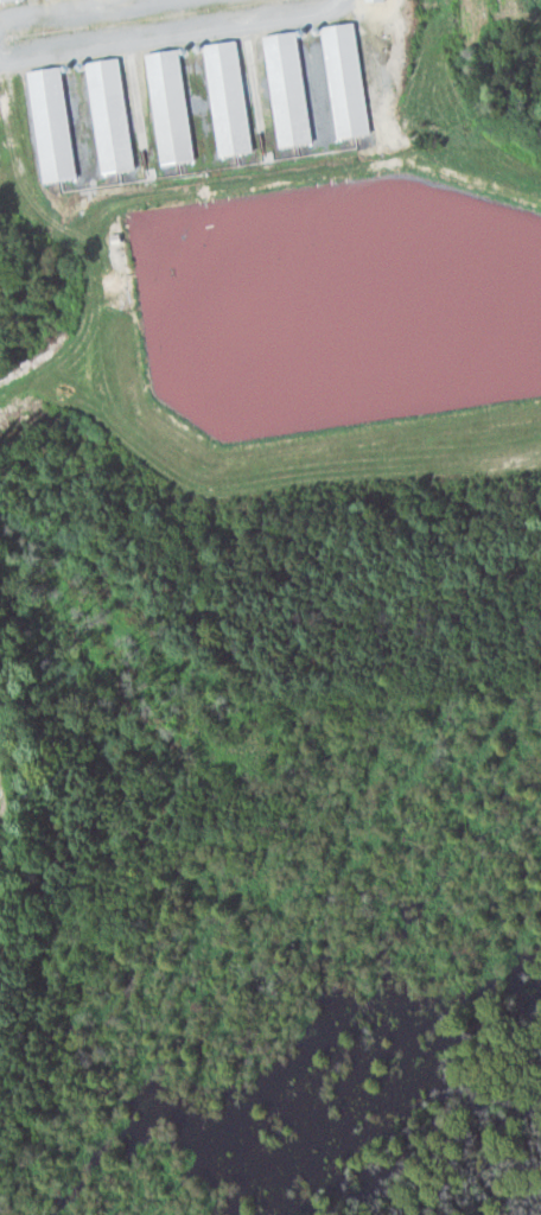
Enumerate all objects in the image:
building: (1, 0)
building: (371, 0)
building: (343, 79)
building: (285, 88)
building: (225, 97)
building: (167, 106)
building: (108, 115)
building: (49, 123)

